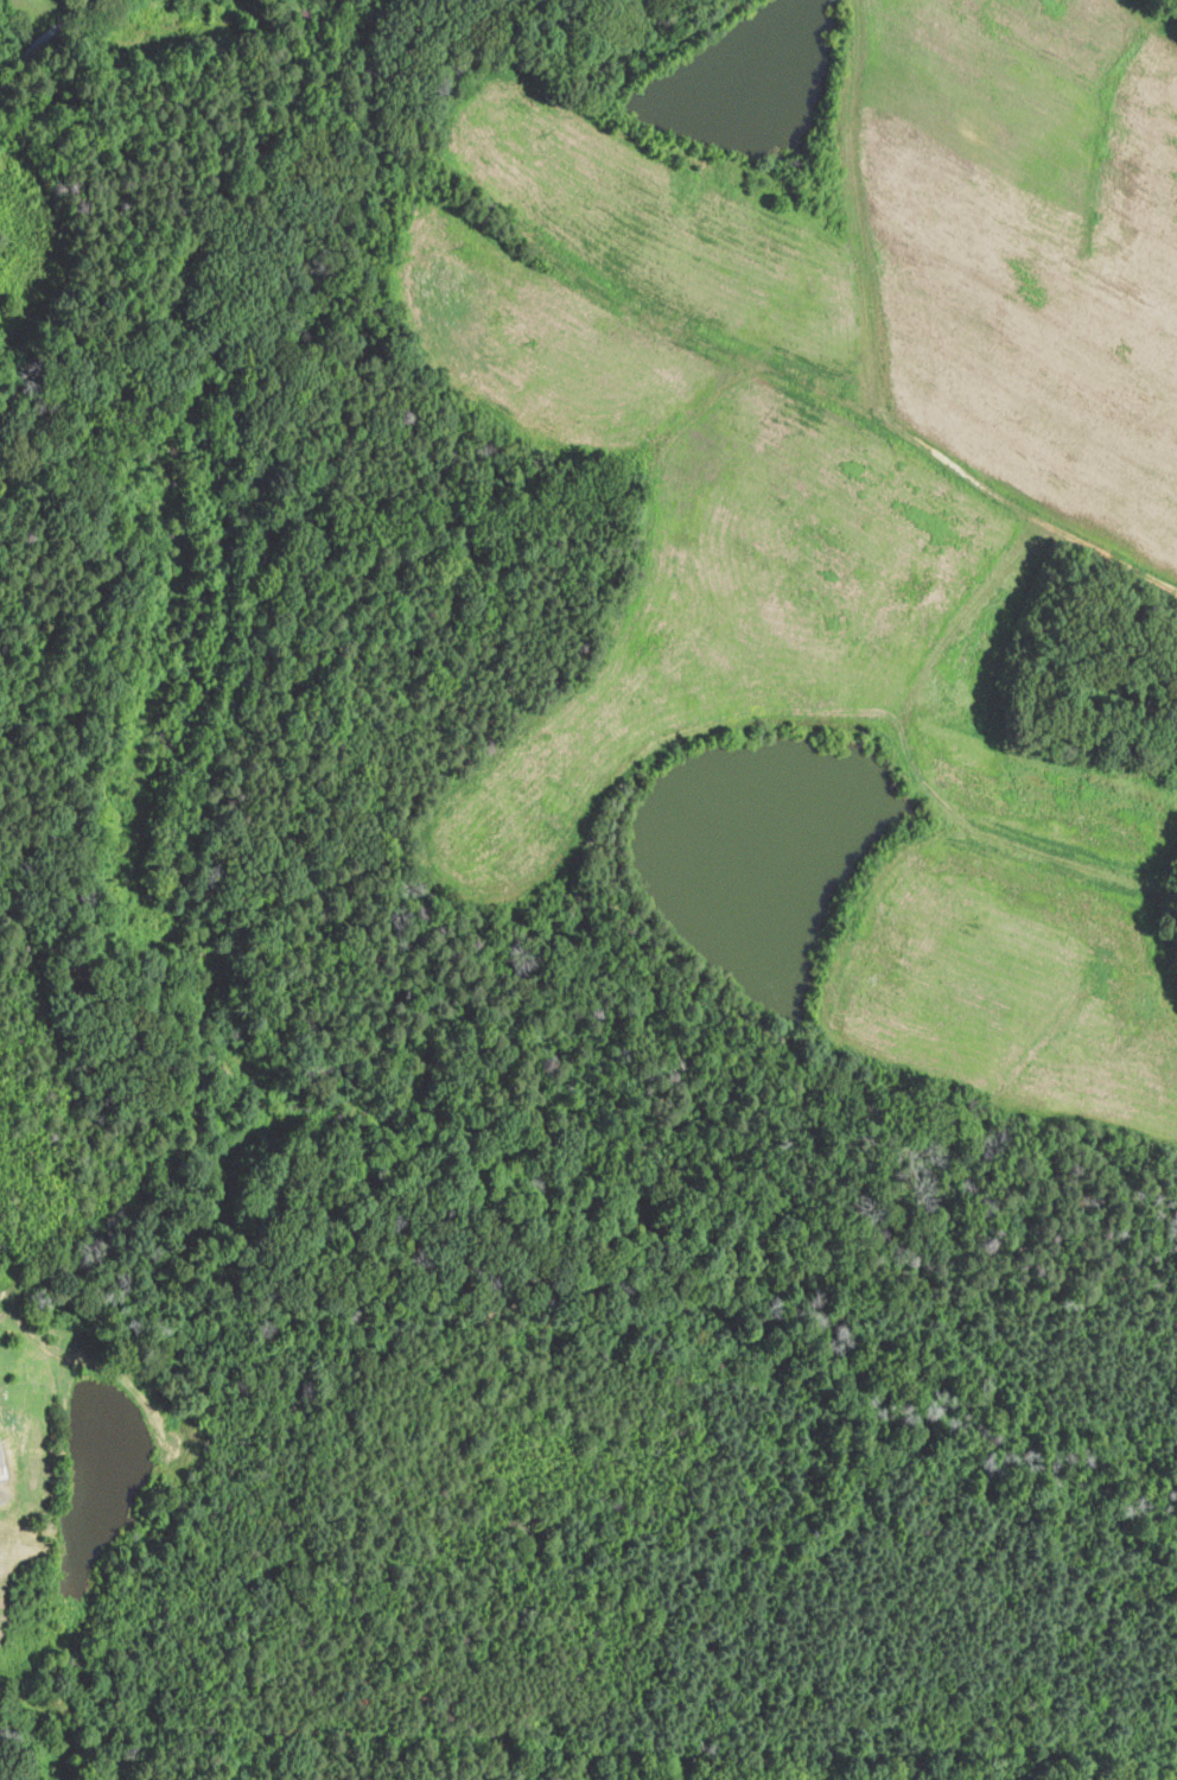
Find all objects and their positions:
road: (52, 42)
building: (0, 1457)

